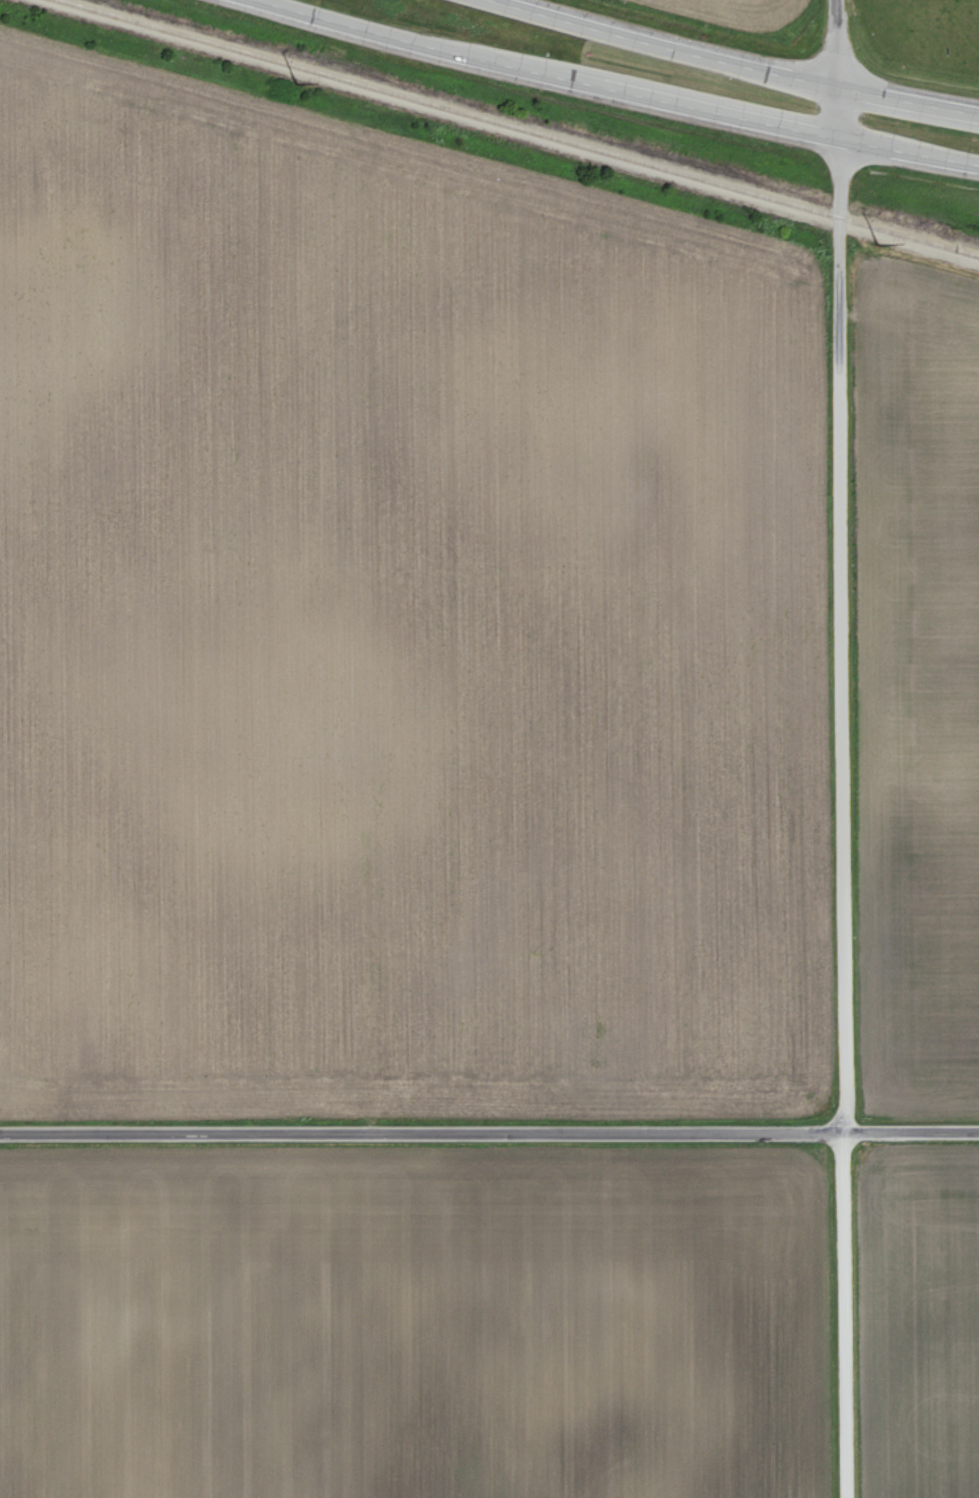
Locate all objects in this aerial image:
road: (734, 63)
power tower: (296, 83)
road: (603, 88)
railway: (489, 131)
power tower: (876, 243)
road: (842, 567)
road: (912, 1134)
road: (422, 1135)
road: (846, 1316)

